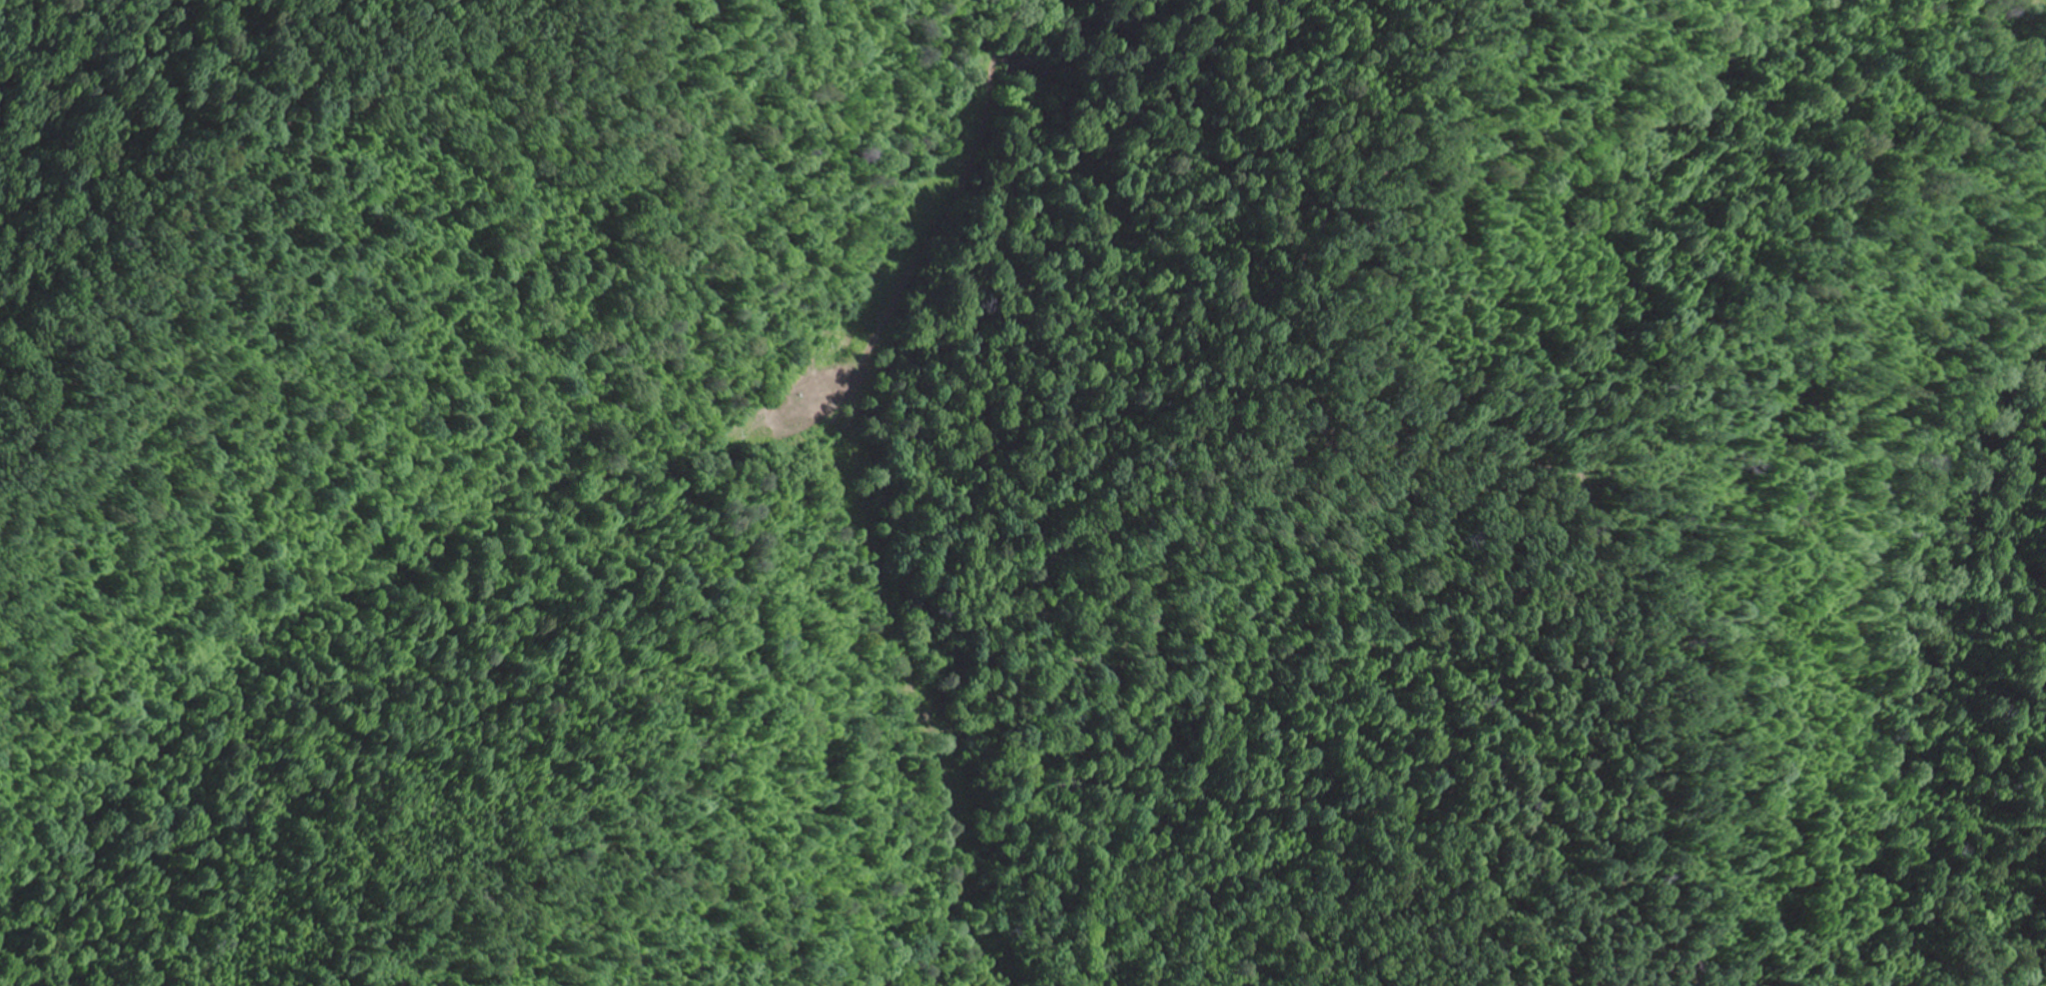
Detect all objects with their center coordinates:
building: (816, 397)

